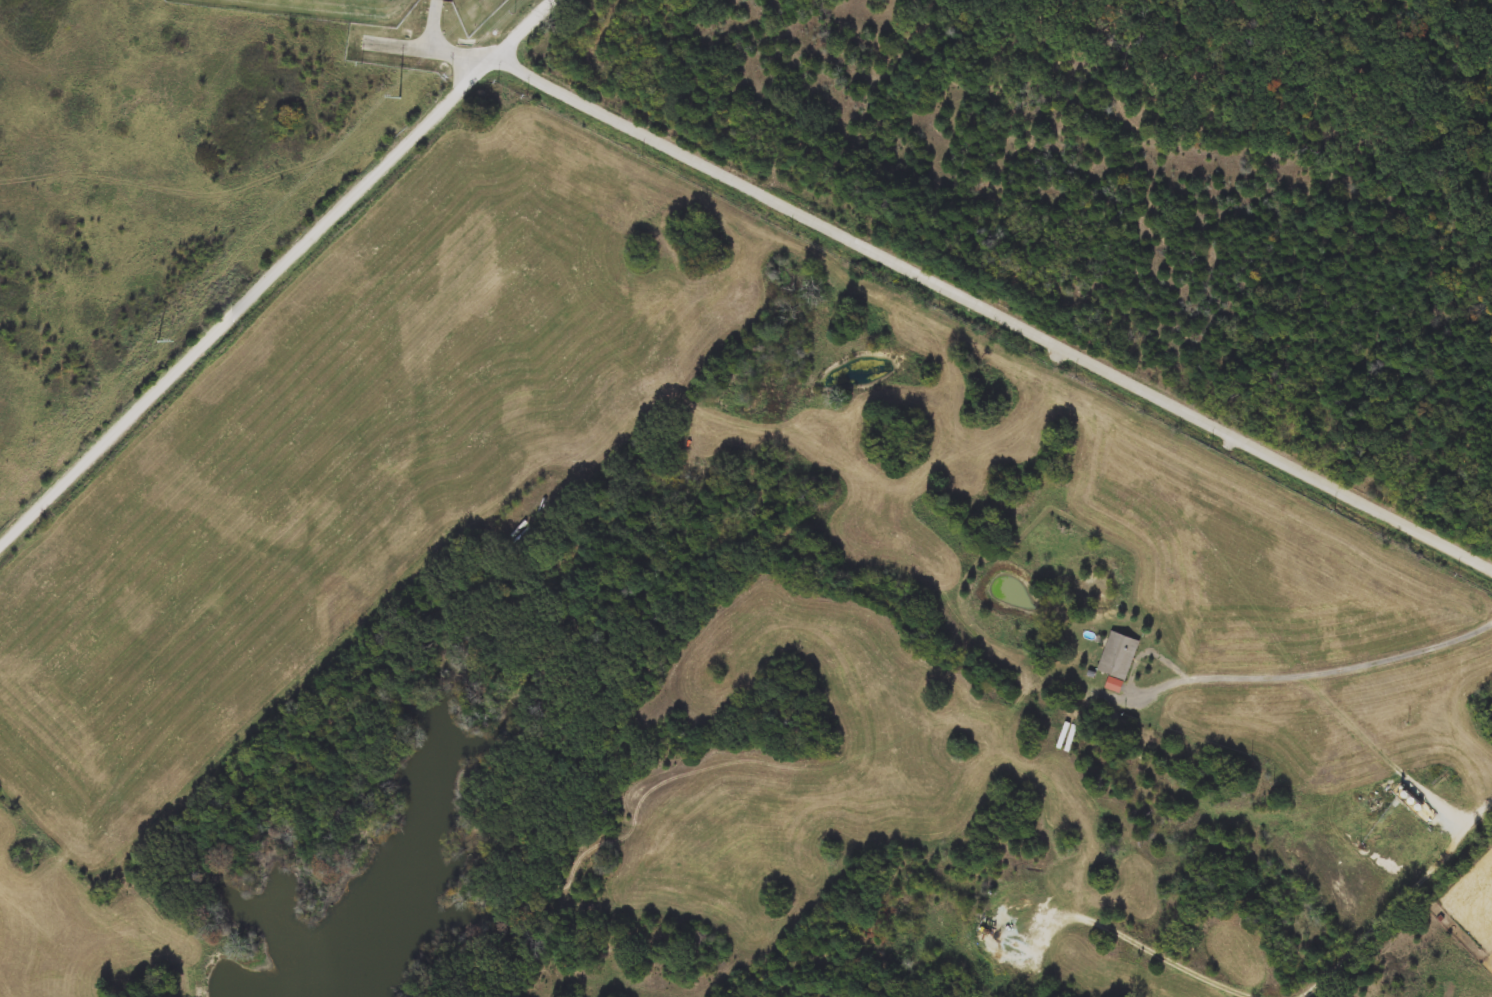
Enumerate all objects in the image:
road: (442, 44)
road: (740, 230)
road: (278, 271)
road: (992, 311)
building: (1118, 657)
road: (1315, 672)
road: (1461, 801)
road: (1397, 903)
road: (1132, 935)

